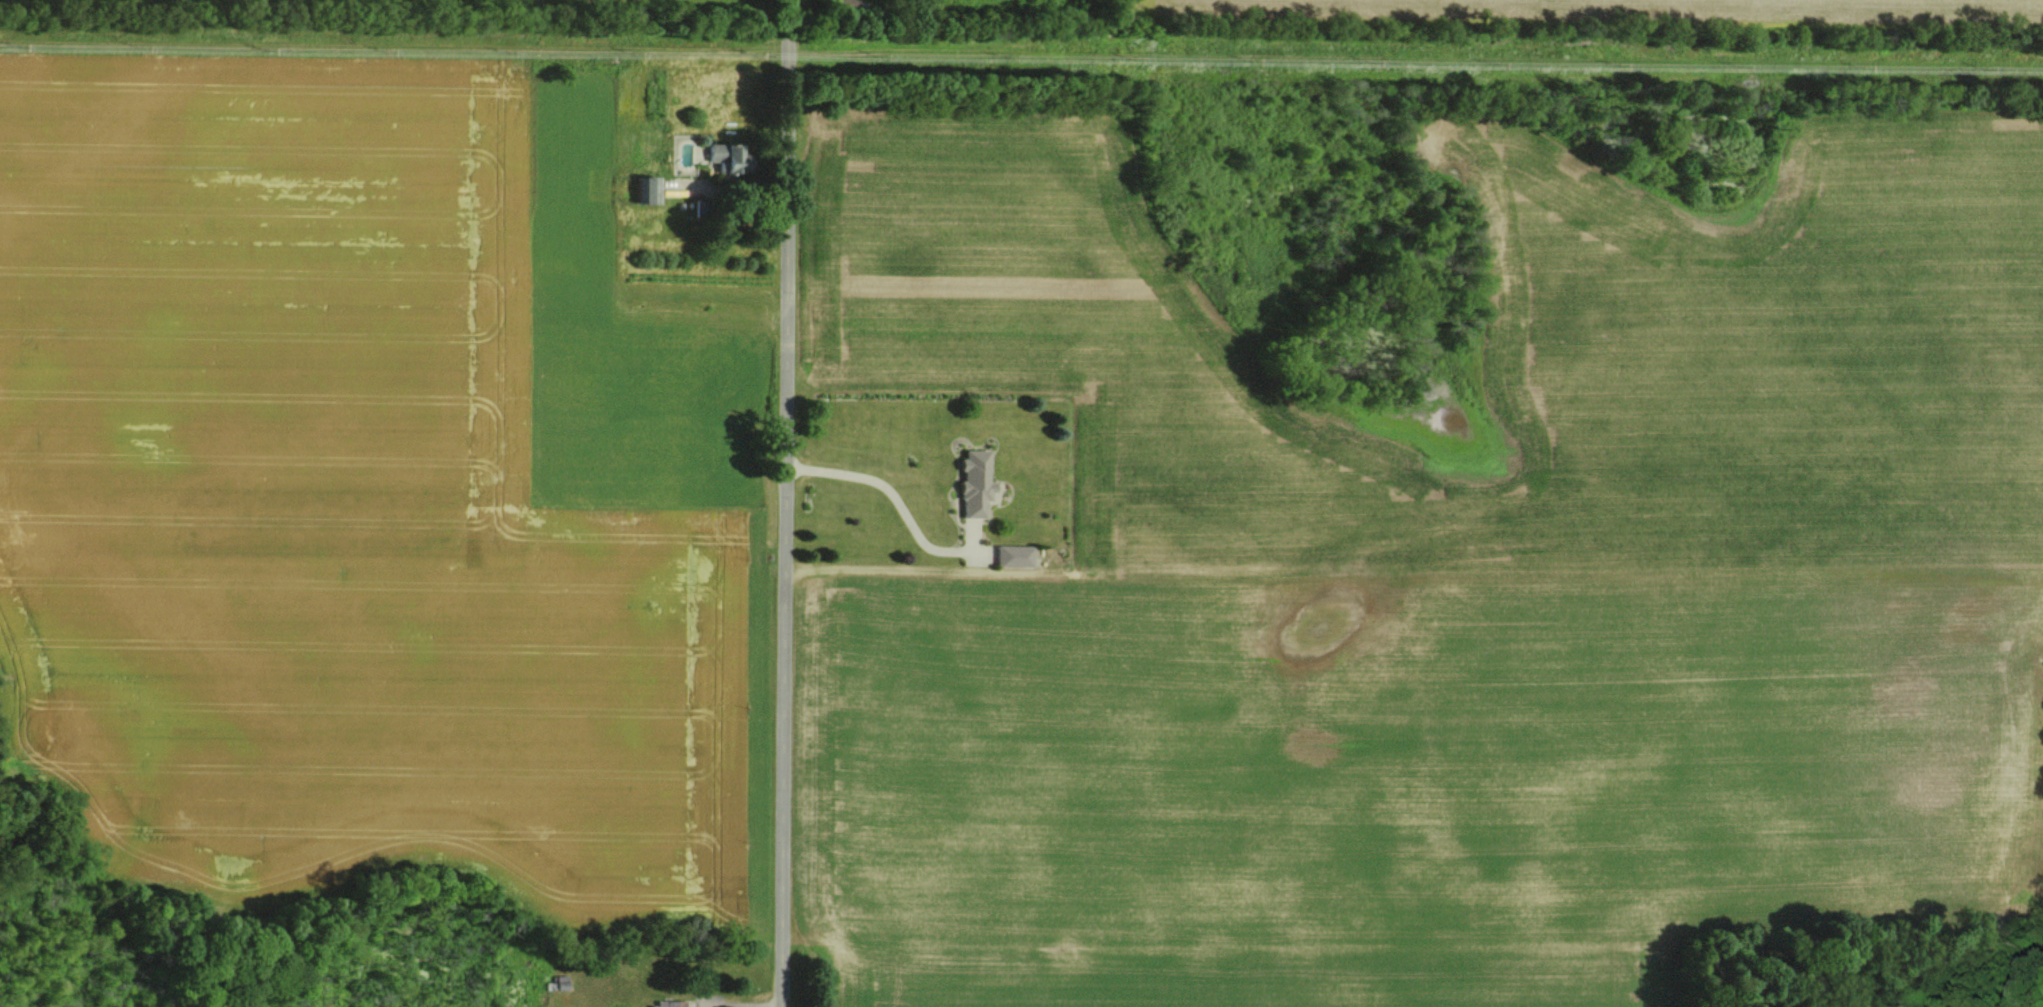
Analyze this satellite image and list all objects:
building: (718, 156)
building: (640, 189)
building: (969, 484)
road: (889, 493)
road: (786, 503)
building: (1008, 556)
building: (667, 1004)

